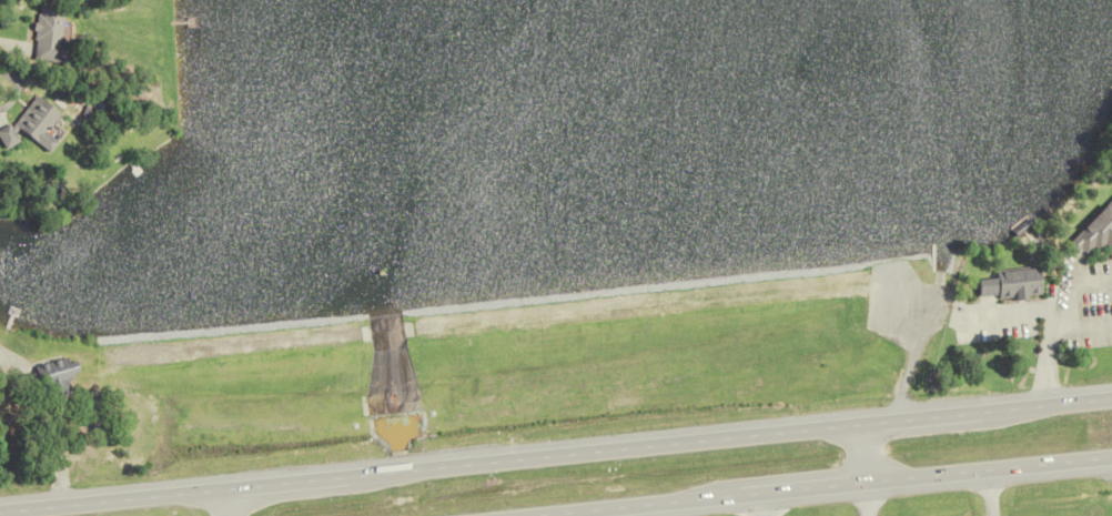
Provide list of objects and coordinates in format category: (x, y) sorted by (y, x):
building: (40, 38)
building: (22, 130)
building: (1092, 232)
building: (1003, 285)
road: (1017, 312)
road: (1054, 334)
building: (60, 376)
road: (1055, 404)
road: (930, 417)
road: (610, 448)
road: (862, 454)
road: (989, 471)
road: (292, 480)
road: (790, 492)
road: (989, 494)
road: (110, 499)
road: (865, 499)
road: (222, 502)
road: (630, 507)

